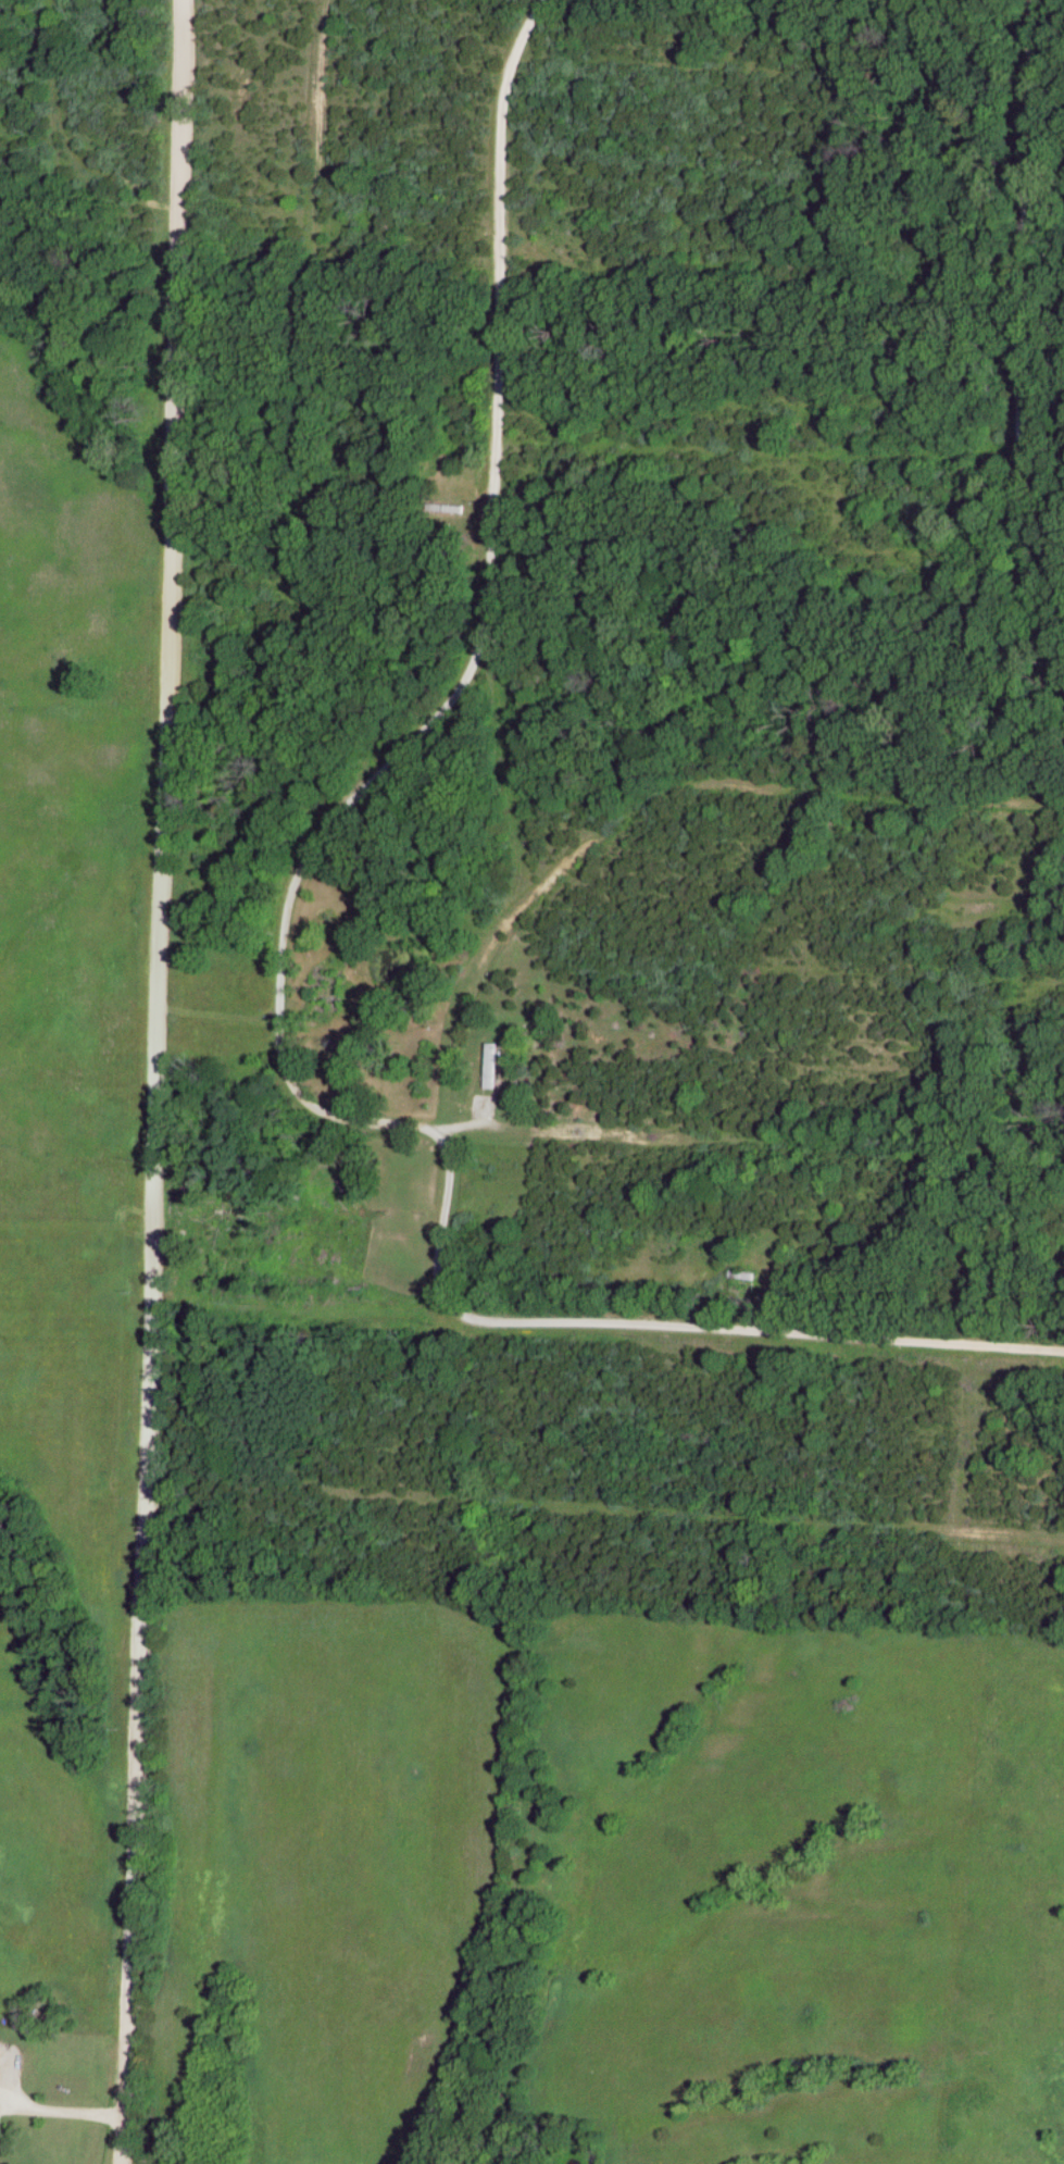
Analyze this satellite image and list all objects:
road: (318, 107)
road: (87, 202)
road: (1018, 336)
road: (316, 341)
road: (702, 788)
road: (324, 830)
building: (495, 1067)
road: (157, 1082)
road: (447, 1210)
road: (753, 1332)
road: (663, 1517)
building: (3, 2053)
road: (61, 2101)
building: (0, 2119)

